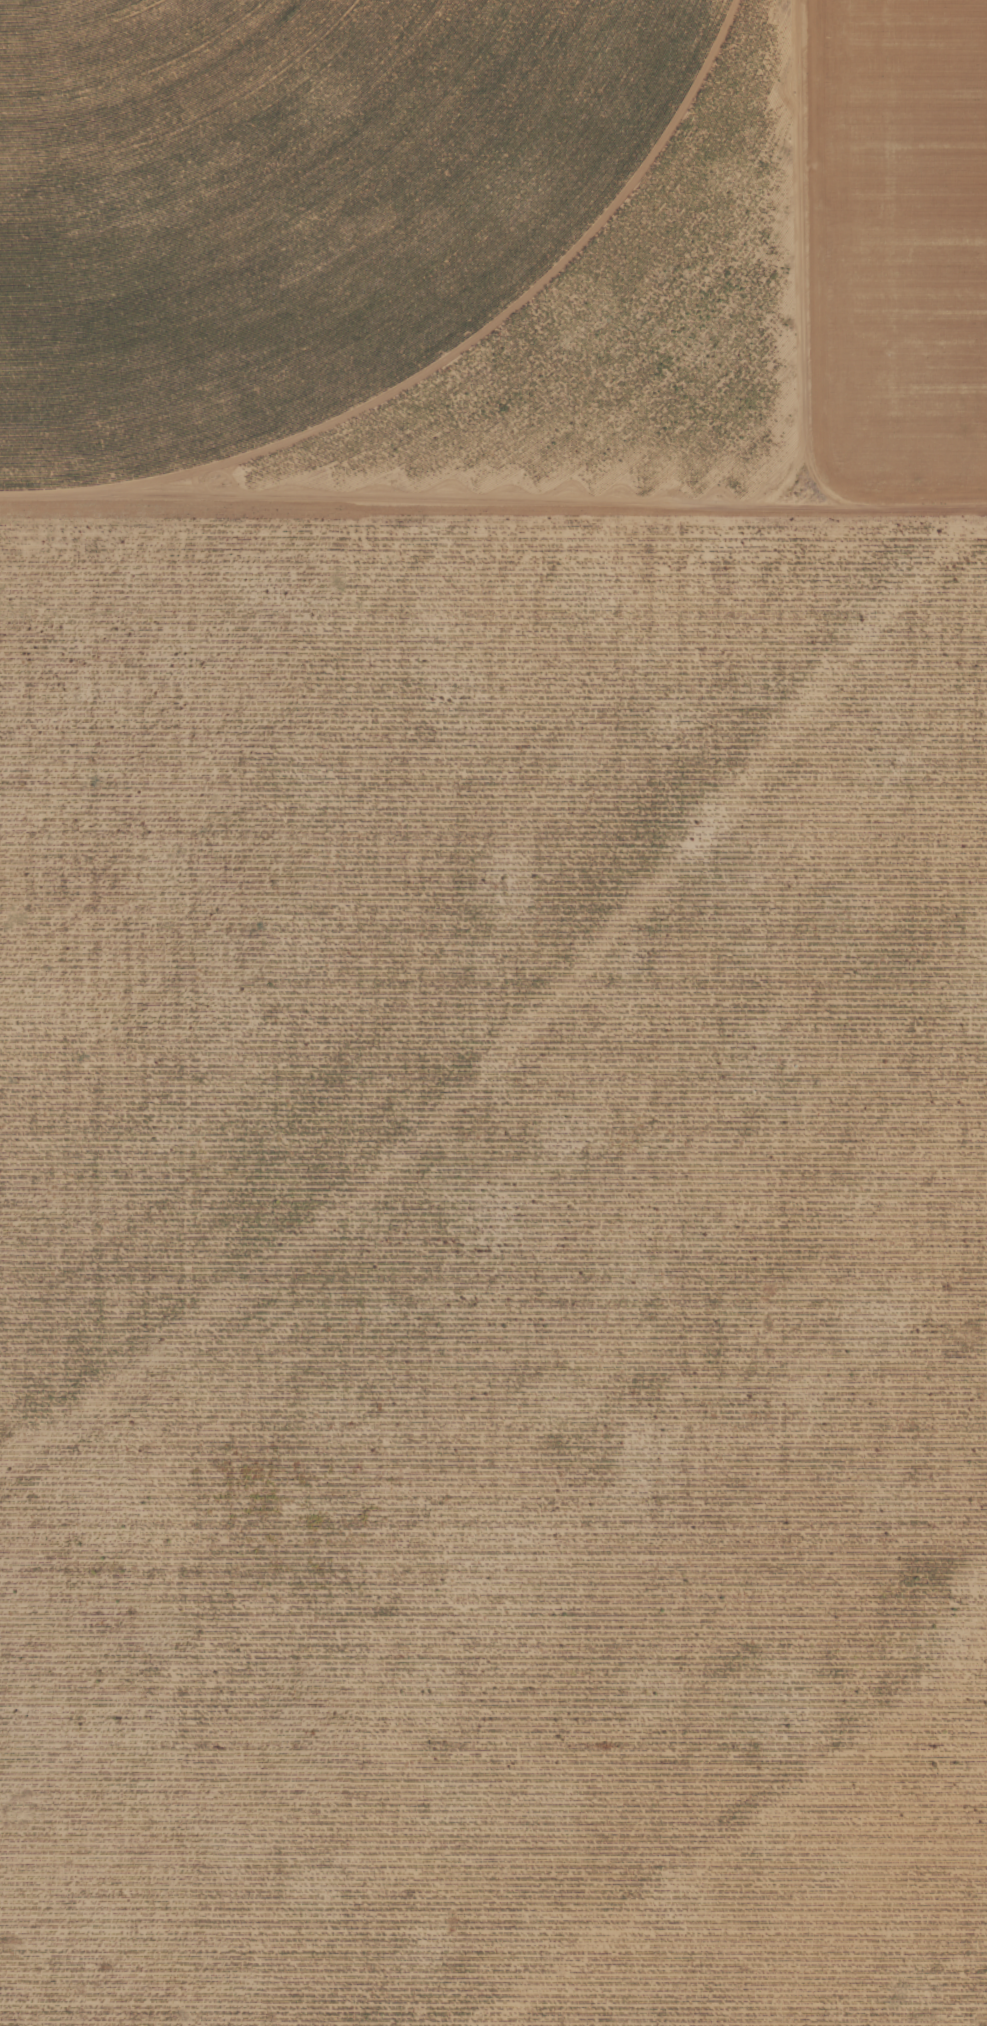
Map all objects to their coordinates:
road: (814, 163)

